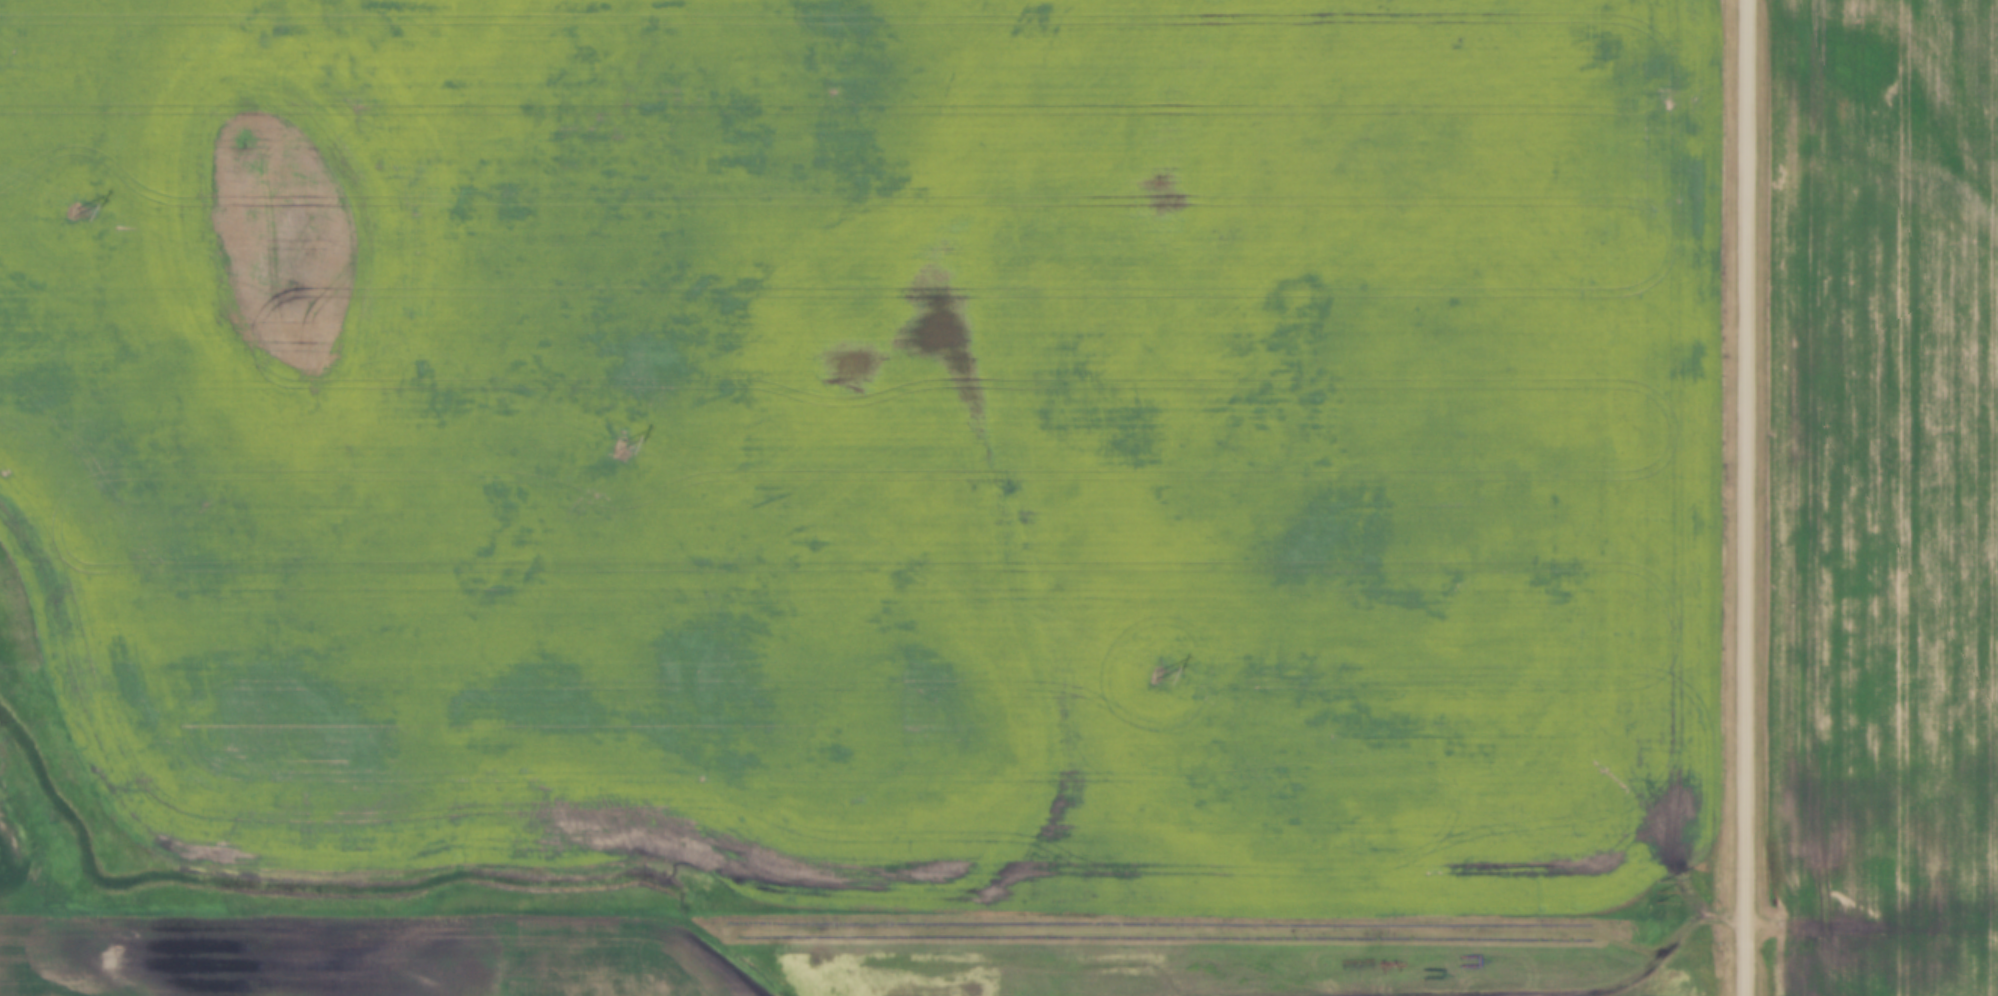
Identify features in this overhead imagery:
road: (1743, 497)

